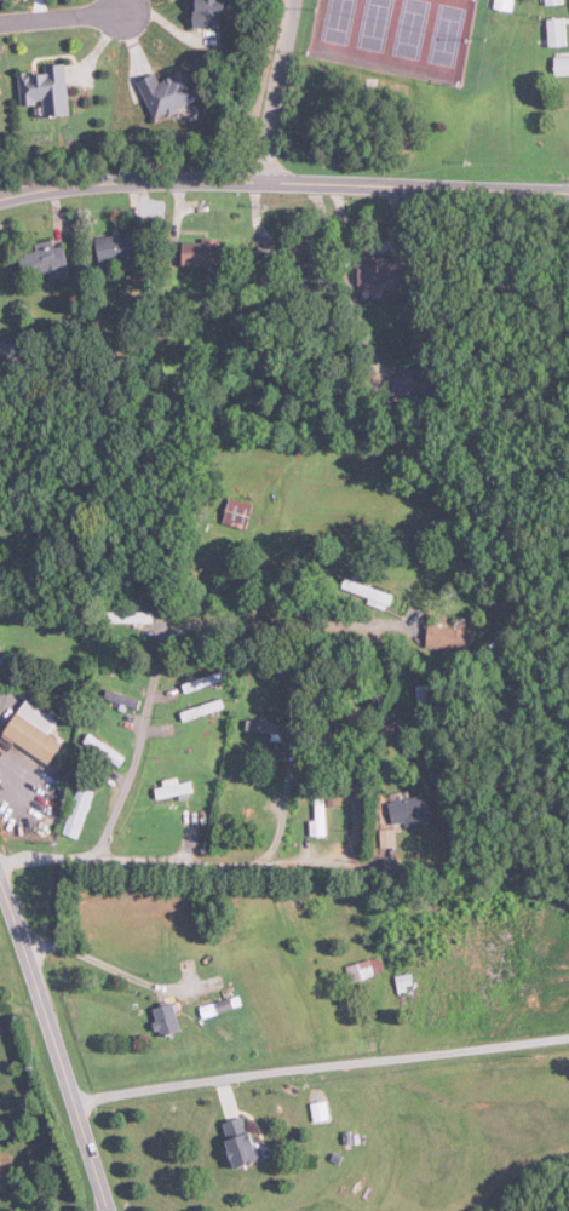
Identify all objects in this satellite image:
building: (554, 2)
building: (506, 5)
building: (213, 13)
road: (64, 18)
building: (558, 33)
park: (397, 35)
building: (562, 65)
building: (48, 90)
road: (264, 91)
road: (276, 91)
building: (171, 93)
building: (0, 94)
road: (283, 184)
building: (119, 247)
building: (203, 253)
building: (48, 259)
building: (300, 264)
building: (385, 272)
building: (7, 348)
building: (418, 391)
building: (235, 513)
building: (368, 593)
building: (130, 618)
road: (182, 629)
building: (452, 639)
building: (0, 671)
building: (206, 683)
building: (205, 711)
building: (326, 729)
building: (261, 731)
building: (36, 733)
building: (105, 751)
road: (397, 754)
building: (174, 792)
building: (242, 807)
building: (80, 813)
building: (412, 813)
building: (321, 819)
road: (182, 863)
road: (105, 964)
building: (366, 971)
building: (407, 985)
building: (168, 1021)
road: (57, 1043)
road: (322, 1069)
building: (321, 1112)
building: (242, 1141)

